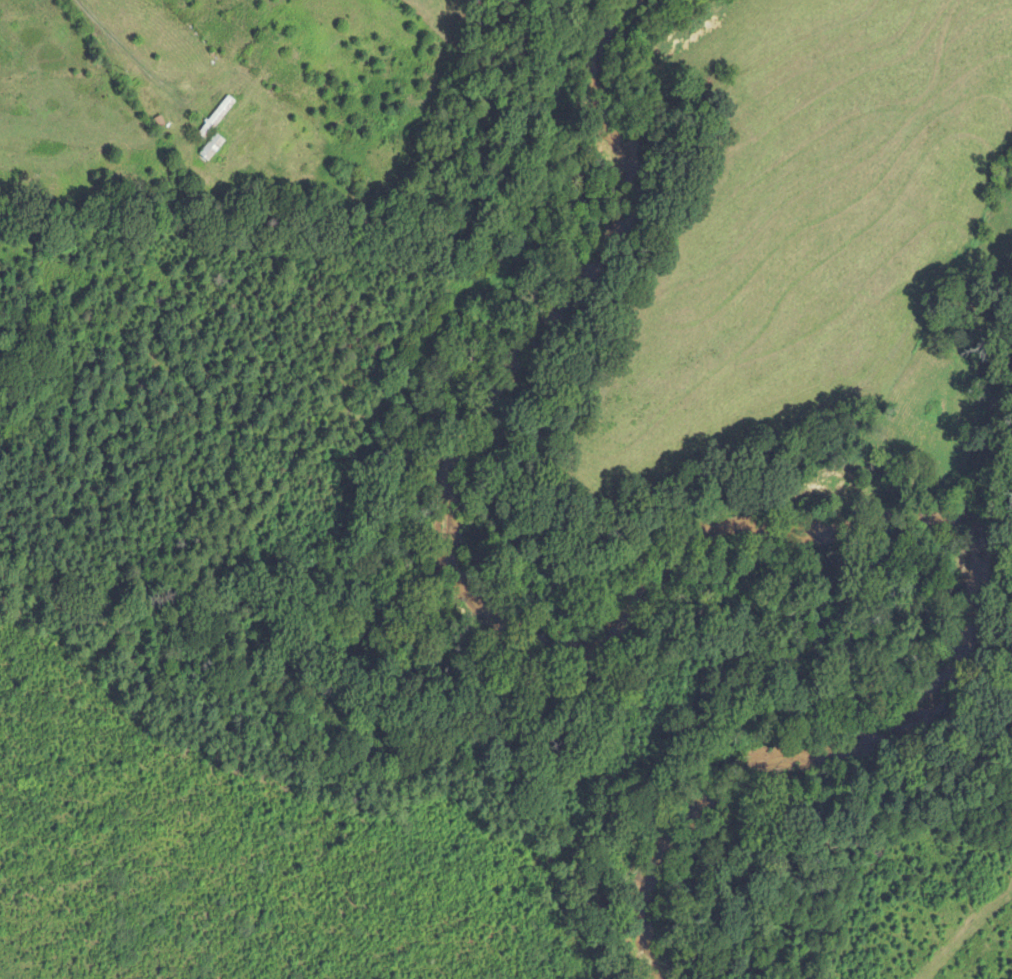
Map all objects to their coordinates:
road: (127, 51)
building: (215, 118)
building: (210, 148)

